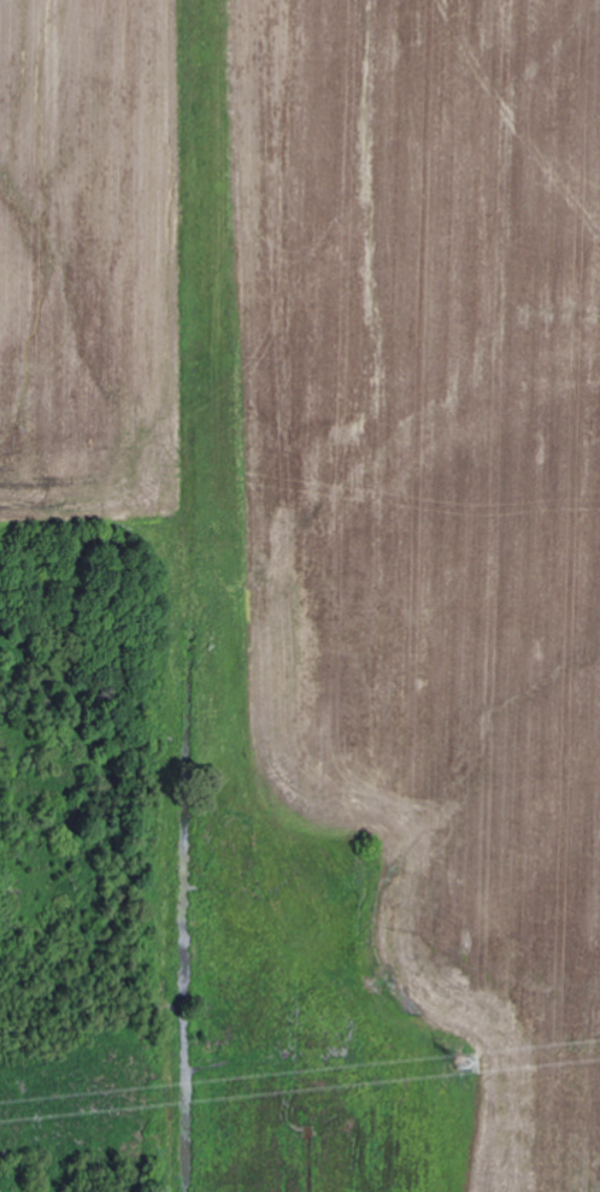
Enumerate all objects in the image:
power tower: (461, 1065)

